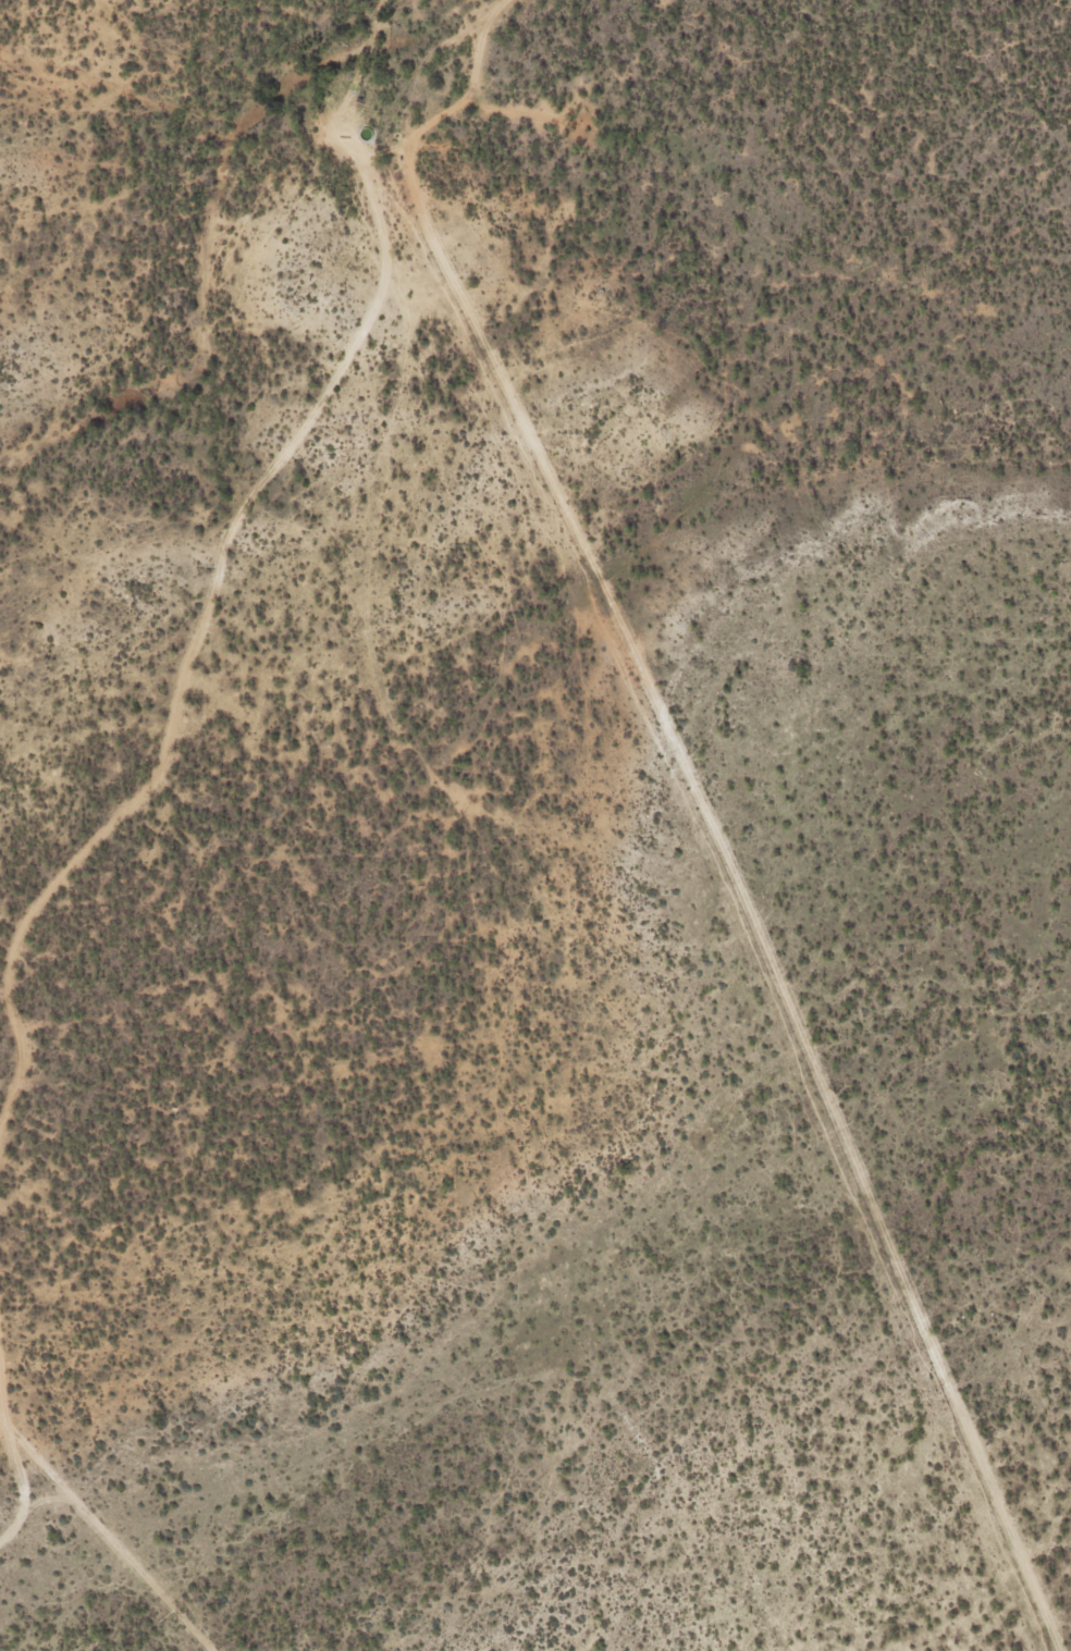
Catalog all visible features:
road: (230, 542)
road: (613, 617)
road: (16, 1452)
road: (981, 1468)
road: (108, 1531)
power tower: (178, 1615)

